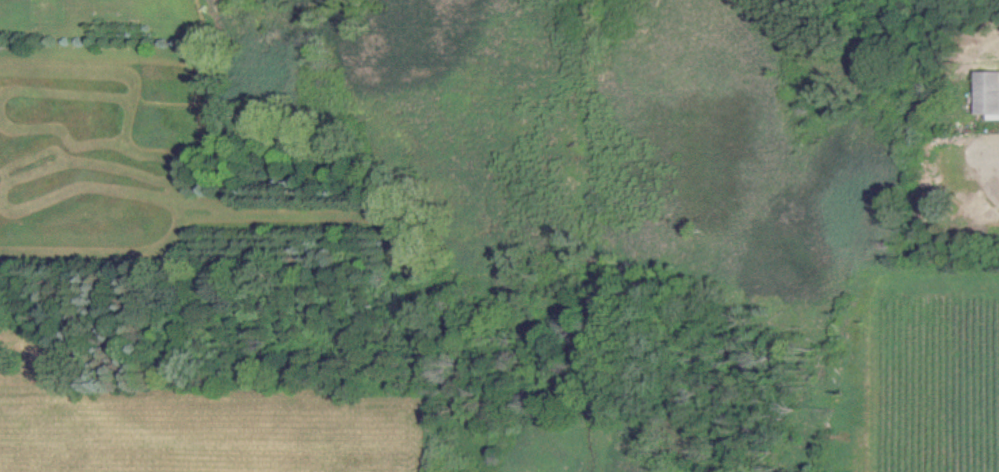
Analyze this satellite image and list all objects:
building: (987, 93)

